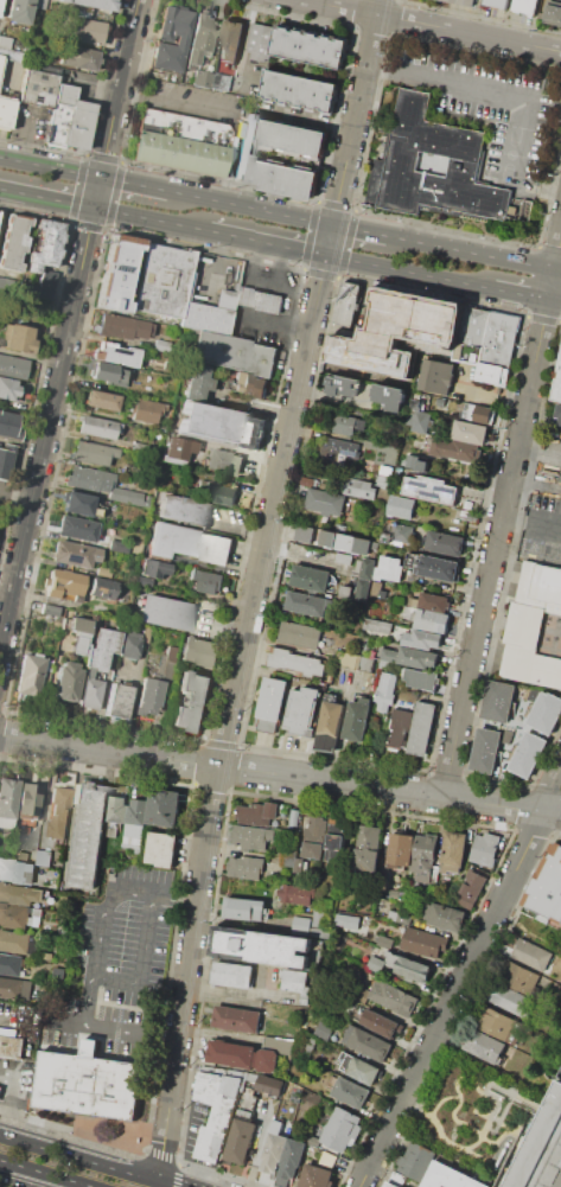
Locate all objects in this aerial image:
building: (463, 1)
building: (496, 2)
building: (38, 4)
building: (90, 4)
building: (525, 6)
building: (17, 12)
building: (81, 13)
building: (553, 13)
road: (436, 24)
building: (81, 31)
building: (162, 38)
building: (200, 38)
building: (261, 40)
building: (230, 42)
building: (310, 47)
building: (8, 51)
building: (77, 58)
building: (202, 79)
building: (218, 82)
building: (37, 89)
building: (299, 89)
road: (514, 94)
road: (27, 107)
road: (237, 110)
building: (5, 111)
building: (68, 120)
building: (285, 136)
building: (181, 143)
park: (511, 153)
building: (434, 166)
road: (50, 168)
building: (274, 177)
traffic signals: (100, 179)
road: (133, 185)
road: (549, 189)
road: (46, 199)
road: (353, 208)
traffic signals: (94, 209)
road: (249, 209)
road: (149, 219)
traffic signals: (333, 225)
road: (446, 226)
road: (359, 230)
building: (13, 242)
road: (267, 243)
building: (45, 245)
road: (549, 248)
road: (471, 253)
road: (559, 255)
traffic signals: (327, 256)
road: (281, 264)
road: (557, 270)
road: (410, 272)
building: (116, 274)
building: (161, 282)
road: (246, 282)
road: (276, 282)
building: (45, 285)
road: (552, 285)
building: (17, 288)
road: (521, 294)
road: (242, 296)
building: (257, 299)
road: (554, 301)
building: (346, 302)
building: (209, 314)
road: (238, 314)
road: (543, 318)
road: (69, 323)
building: (0, 327)
building: (122, 327)
road: (273, 331)
building: (397, 334)
building: (472, 334)
building: (503, 338)
building: (20, 339)
building: (1, 342)
building: (161, 346)
building: (115, 355)
building: (234, 355)
road: (30, 357)
building: (13, 368)
building: (108, 374)
building: (492, 375)
building: (436, 376)
building: (196, 382)
building: (249, 384)
building: (557, 384)
building: (343, 385)
building: (8, 390)
building: (390, 396)
building: (101, 401)
building: (442, 407)
building: (417, 410)
building: (145, 411)
building: (480, 413)
building: (557, 413)
building: (350, 425)
building: (7, 426)
building: (221, 426)
building: (97, 428)
building: (470, 432)
building: (339, 447)
building: (178, 448)
building: (454, 449)
building: (93, 453)
building: (410, 460)
building: (223, 461)
building: (4, 464)
building: (422, 465)
building: (90, 479)
building: (310, 481)
building: (365, 486)
building: (431, 490)
building: (216, 491)
road: (15, 493)
building: (126, 497)
building: (325, 500)
building: (466, 503)
building: (78, 504)
building: (401, 506)
building: (183, 511)
building: (470, 516)
road: (238, 524)
road: (531, 525)
parking lot: (542, 527)
building: (77, 530)
building: (304, 532)
building: (406, 532)
building: (385, 537)
building: (333, 538)
building: (445, 542)
building: (187, 544)
building: (358, 544)
building: (117, 547)
road: (496, 547)
building: (75, 554)
road: (300, 556)
building: (343, 557)
building: (433, 566)
building: (366, 568)
building: (389, 568)
building: (153, 569)
building: (102, 572)
building: (311, 576)
building: (206, 580)
building: (144, 581)
building: (64, 583)
road: (255, 586)
building: (101, 588)
building: (376, 588)
building: (363, 589)
building: (348, 592)
building: (413, 601)
building: (434, 601)
building: (306, 602)
building: (49, 610)
building: (166, 613)
road: (497, 615)
building: (432, 621)
building: (376, 625)
road: (223, 626)
building: (535, 626)
building: (300, 633)
building: (423, 639)
building: (129, 645)
building: (202, 651)
building: (171, 653)
building: (409, 657)
building: (91, 658)
building: (349, 659)
building: (295, 662)
building: (157, 663)
building: (31, 675)
building: (420, 678)
building: (65, 682)
building: (385, 690)
building: (148, 697)
building: (498, 700)
building: (192, 701)
building: (117, 702)
building: (270, 702)
building: (301, 709)
building: (544, 711)
building: (358, 719)
building: (331, 723)
building: (400, 727)
building: (422, 728)
road: (240, 738)
road: (219, 742)
building: (486, 749)
building: (525, 753)
road: (280, 772)
road: (445, 773)
road: (544, 787)
road: (550, 789)
building: (7, 797)
building: (27, 800)
building: (164, 806)
building: (283, 809)
building: (116, 810)
building: (58, 812)
building: (256, 813)
building: (136, 817)
building: (294, 817)
building: (5, 824)
building: (88, 834)
building: (251, 836)
building: (314, 837)
building: (336, 840)
building: (133, 842)
building: (485, 848)
building: (161, 849)
building: (368, 849)
building: (400, 850)
building: (453, 850)
building: (20, 855)
building: (423, 859)
building: (300, 864)
building: (246, 867)
building: (39, 869)
building: (12, 870)
building: (548, 886)
building: (470, 889)
building: (20, 893)
building: (295, 893)
building: (380, 901)
building: (339, 905)
building: (247, 907)
building: (13, 915)
building: (318, 915)
building: (399, 917)
building: (448, 917)
building: (345, 920)
building: (300, 925)
building: (319, 932)
building: (18, 942)
building: (355, 943)
building: (383, 943)
building: (422, 943)
building: (267, 947)
building: (531, 953)
building: (47, 955)
road: (141, 961)
building: (376, 963)
building: (9, 964)
building: (408, 966)
road: (93, 969)
building: (59, 972)
building: (232, 975)
building: (516, 976)
building: (297, 983)
building: (26, 989)
building: (74, 991)
road: (237, 991)
building: (393, 997)
building: (506, 997)
road: (452, 998)
building: (236, 1019)
building: (380, 1022)
building: (498, 1023)
building: (323, 1029)
building: (366, 1042)
building: (541, 1042)
building: (279, 1044)
building: (483, 1045)
building: (12, 1046)
building: (242, 1054)
building: (319, 1055)
road: (11, 1062)
road: (23, 1062)
building: (358, 1067)
building: (88, 1084)
building: (269, 1084)
road: (491, 1084)
building: (0, 1087)
building: (350, 1091)
road: (8, 1093)
road: (459, 1098)
road: (442, 1099)
building: (215, 1110)
building: (246, 1111)
road: (501, 1117)
road: (501, 1123)
building: (276, 1125)
building: (342, 1129)
road: (453, 1137)
building: (240, 1141)
building: (313, 1141)
road: (446, 1141)
building: (519, 1142)
road: (256, 1144)
road: (474, 1144)
building: (273, 1150)
building: (543, 1153)
road: (518, 1155)
building: (292, 1157)
building: (327, 1157)
road: (93, 1159)
building: (414, 1160)
road: (40, 1174)
building: (317, 1176)
building: (397, 1178)
building: (448, 1178)
building: (389, 1185)
road: (177, 1186)

